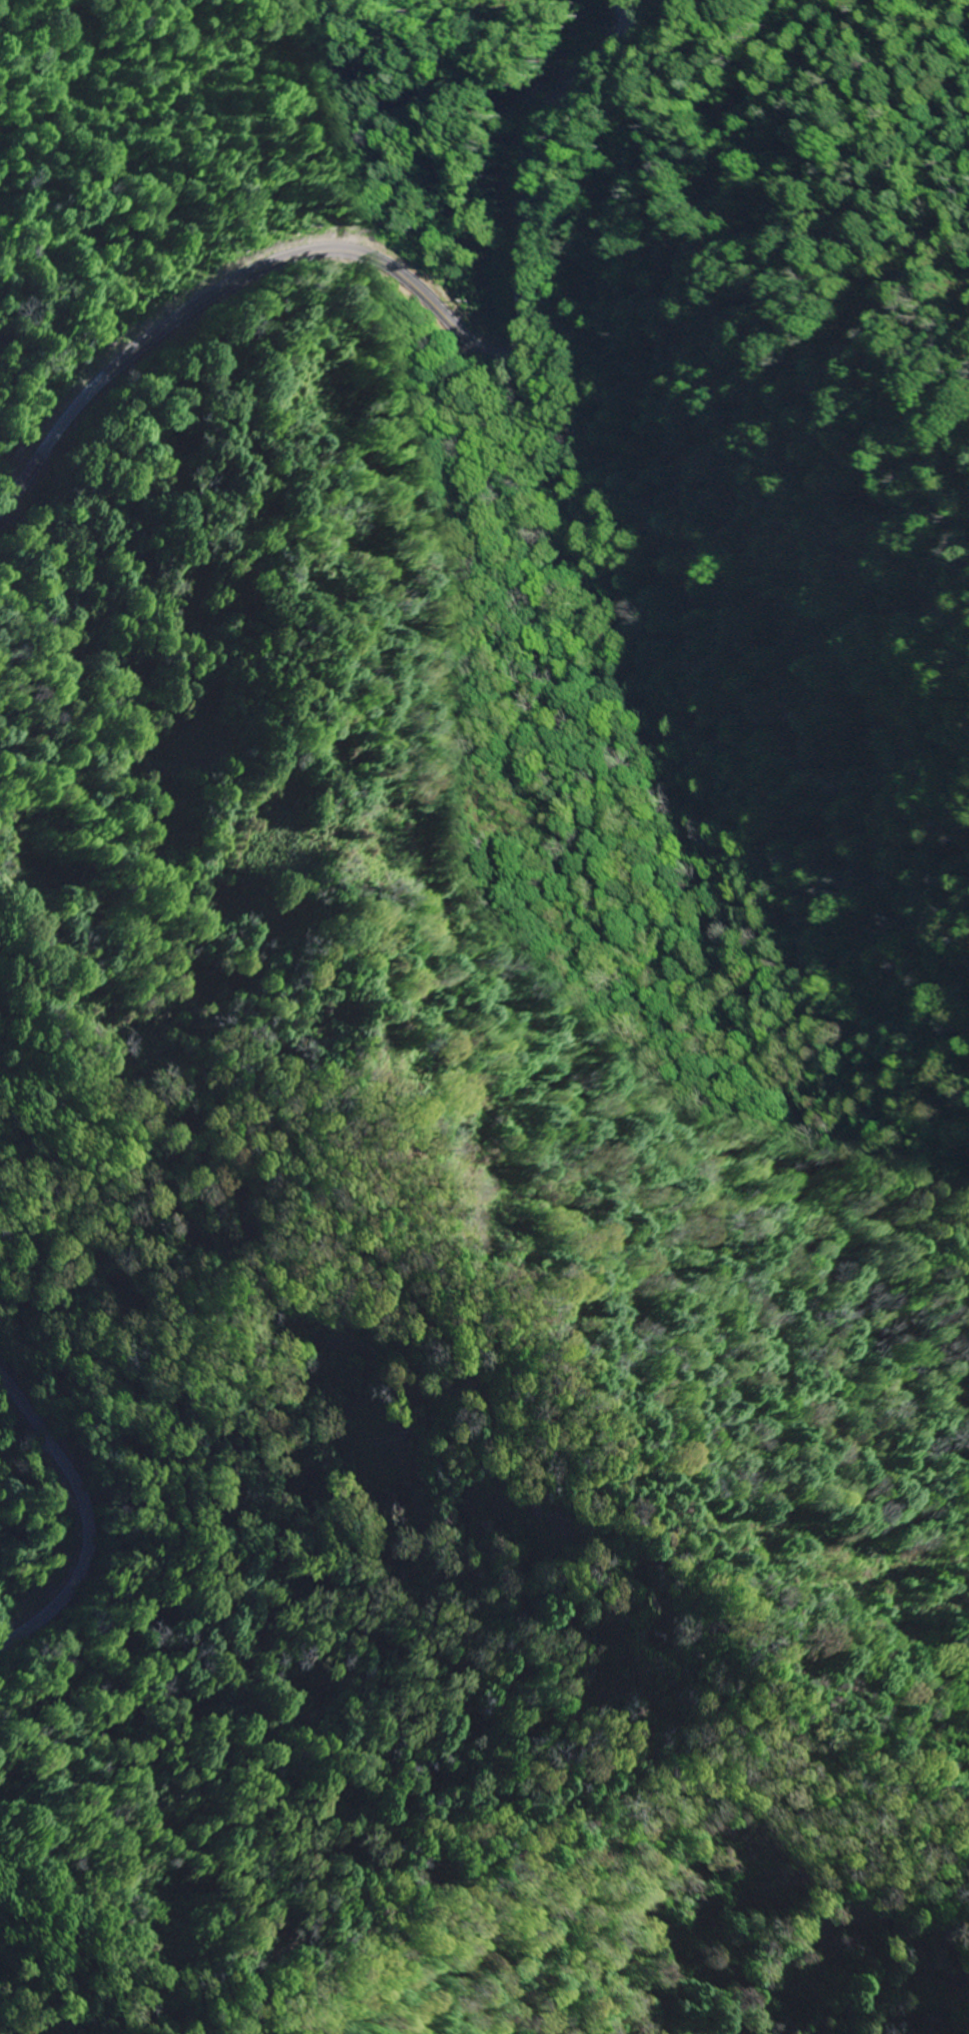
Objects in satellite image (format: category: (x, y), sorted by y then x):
road: (615, 67)
road: (339, 254)
road: (94, 1531)

